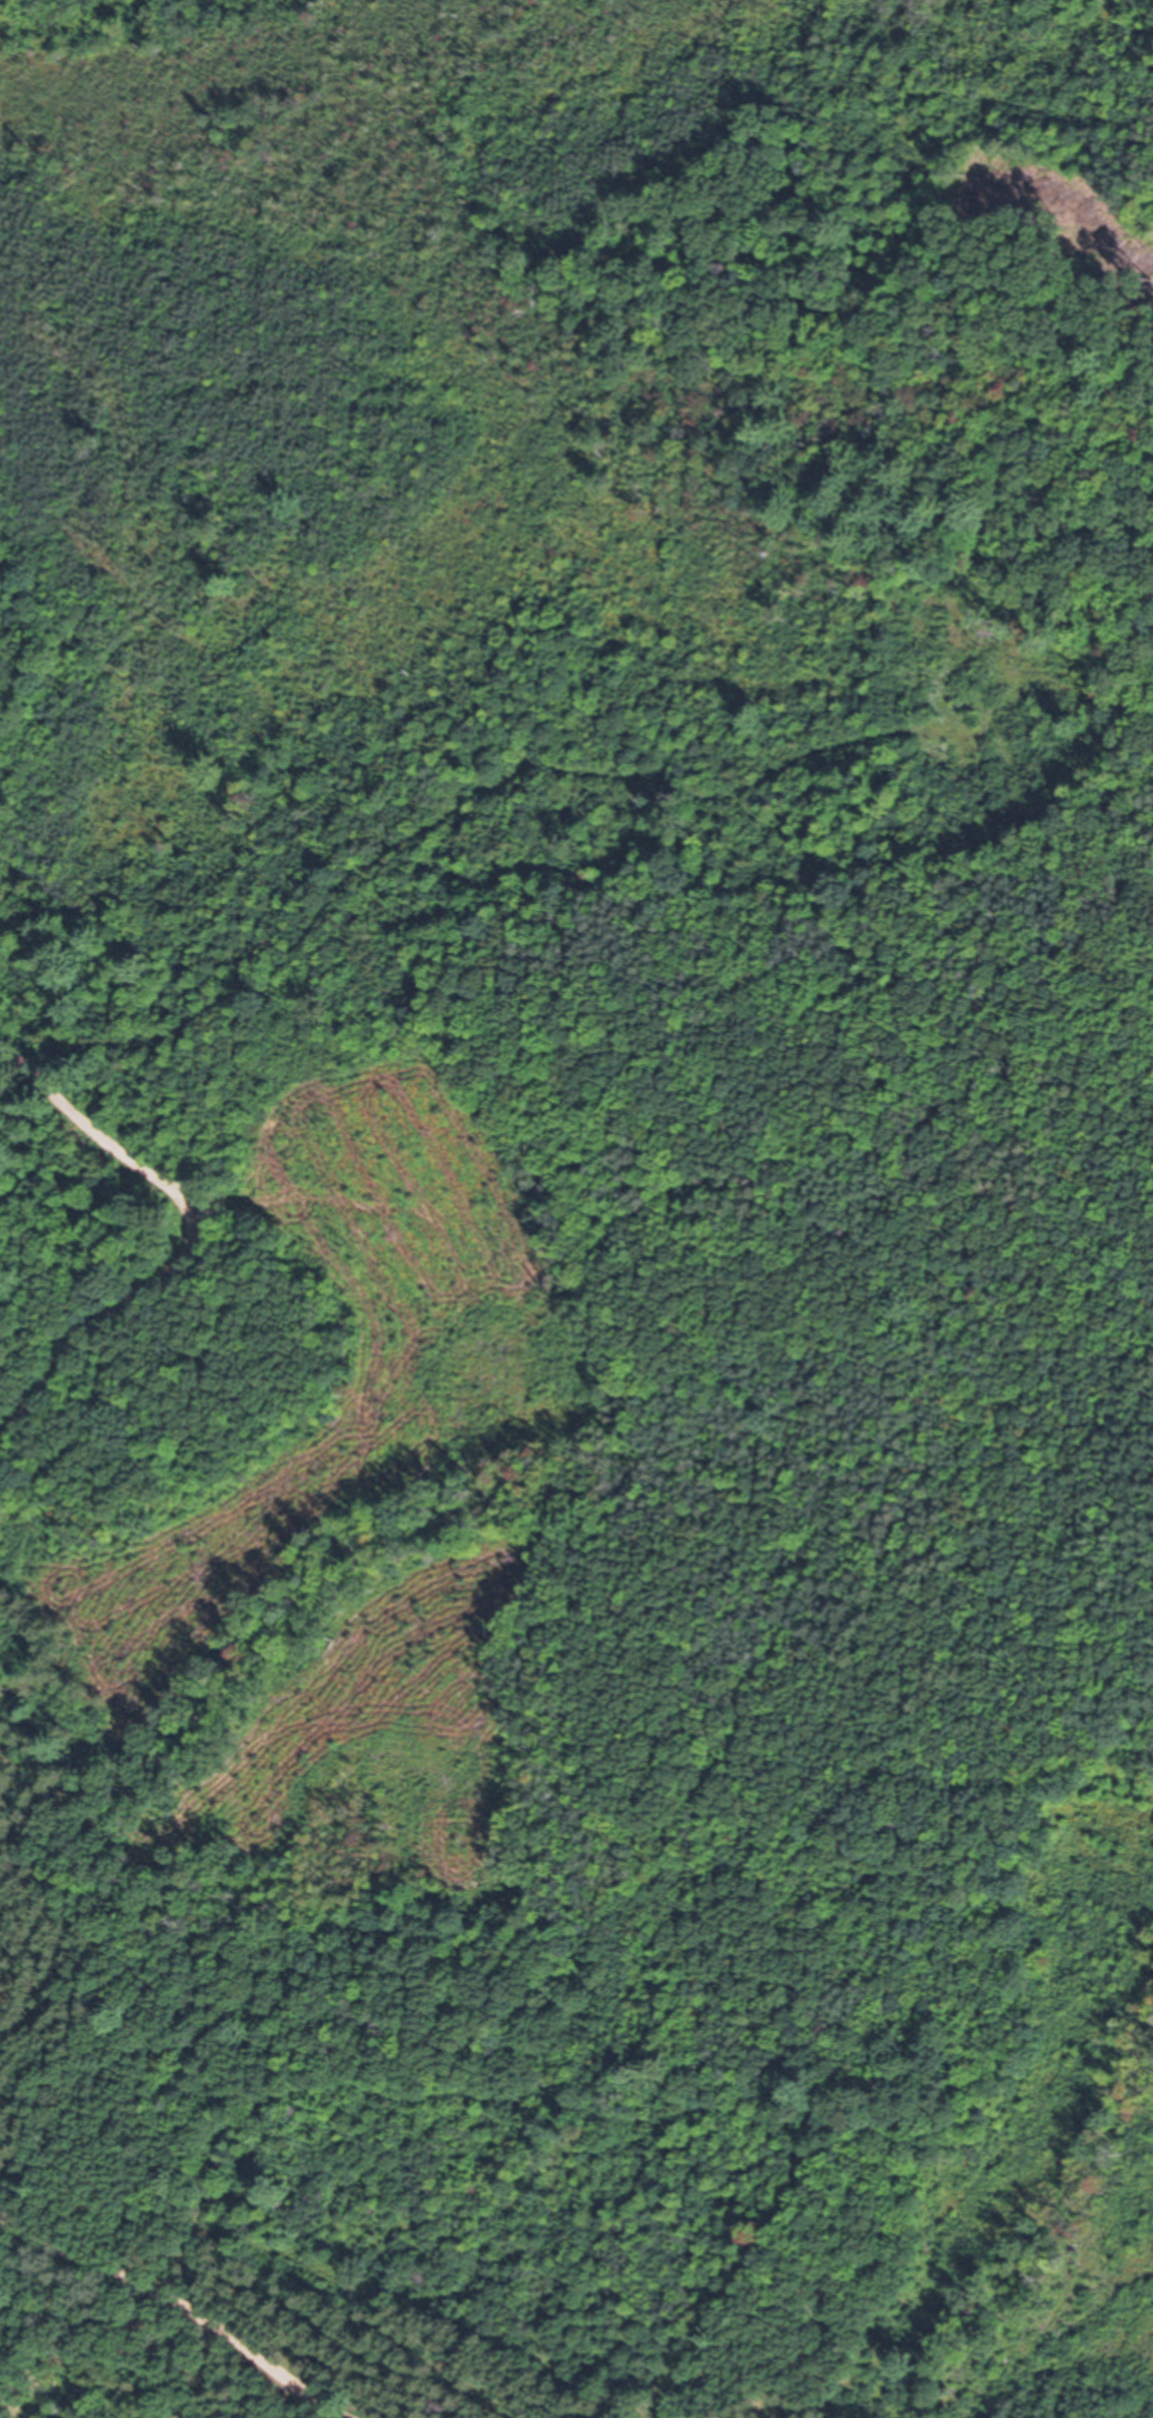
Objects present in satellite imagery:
road: (124, 2316)

